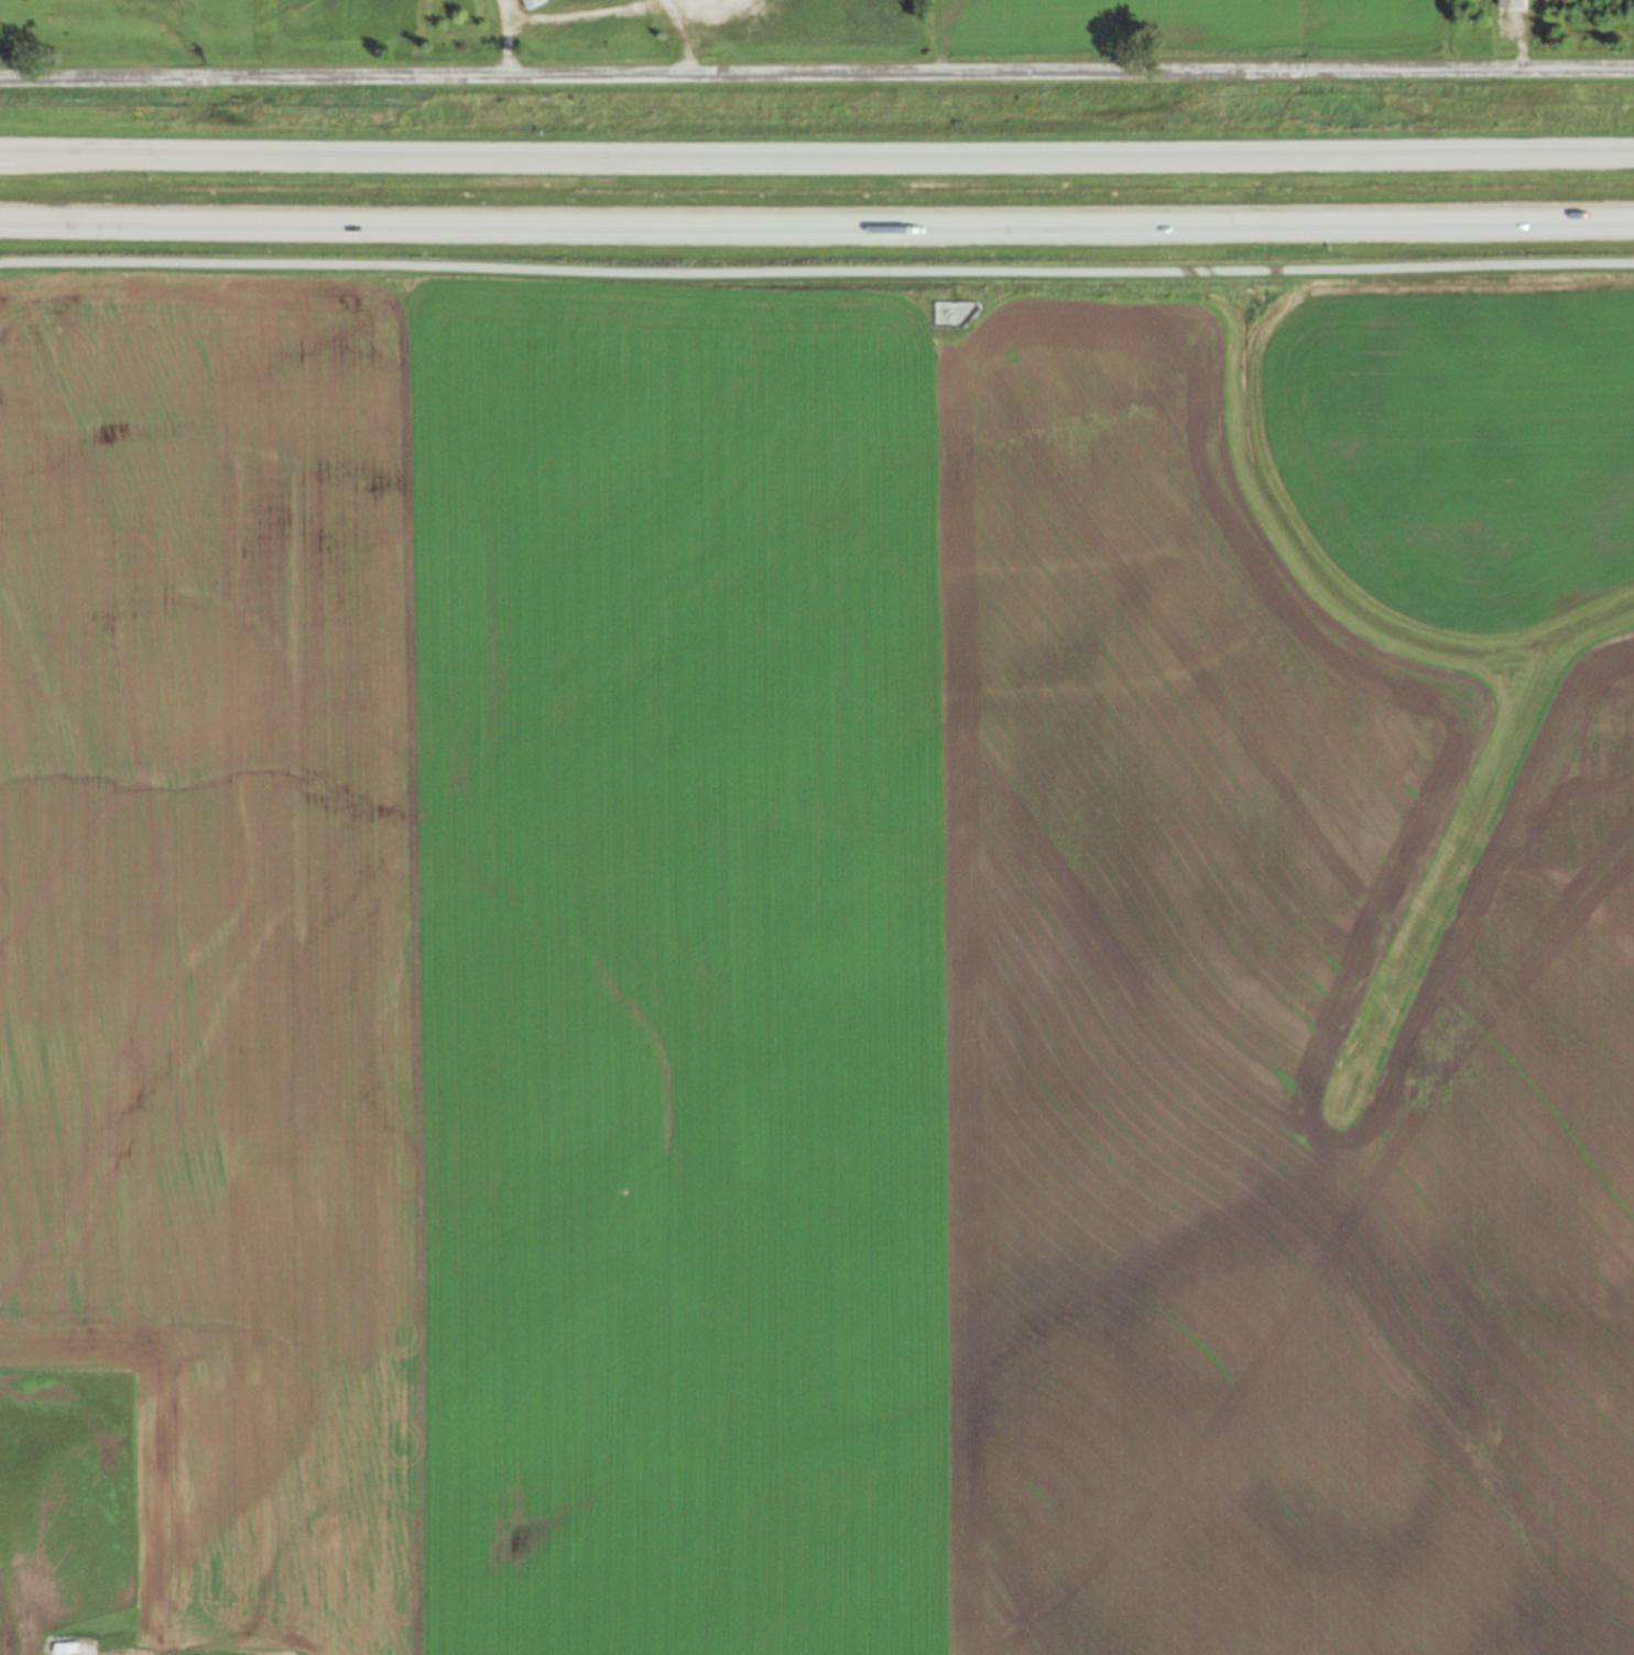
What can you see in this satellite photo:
building: (530, 2)
building: (1510, 3)
road: (707, 11)
road: (600, 12)
road: (504, 13)
road: (414, 37)
road: (816, 73)
road: (816, 160)
road: (816, 226)
road: (817, 270)
power substation: (952, 313)

